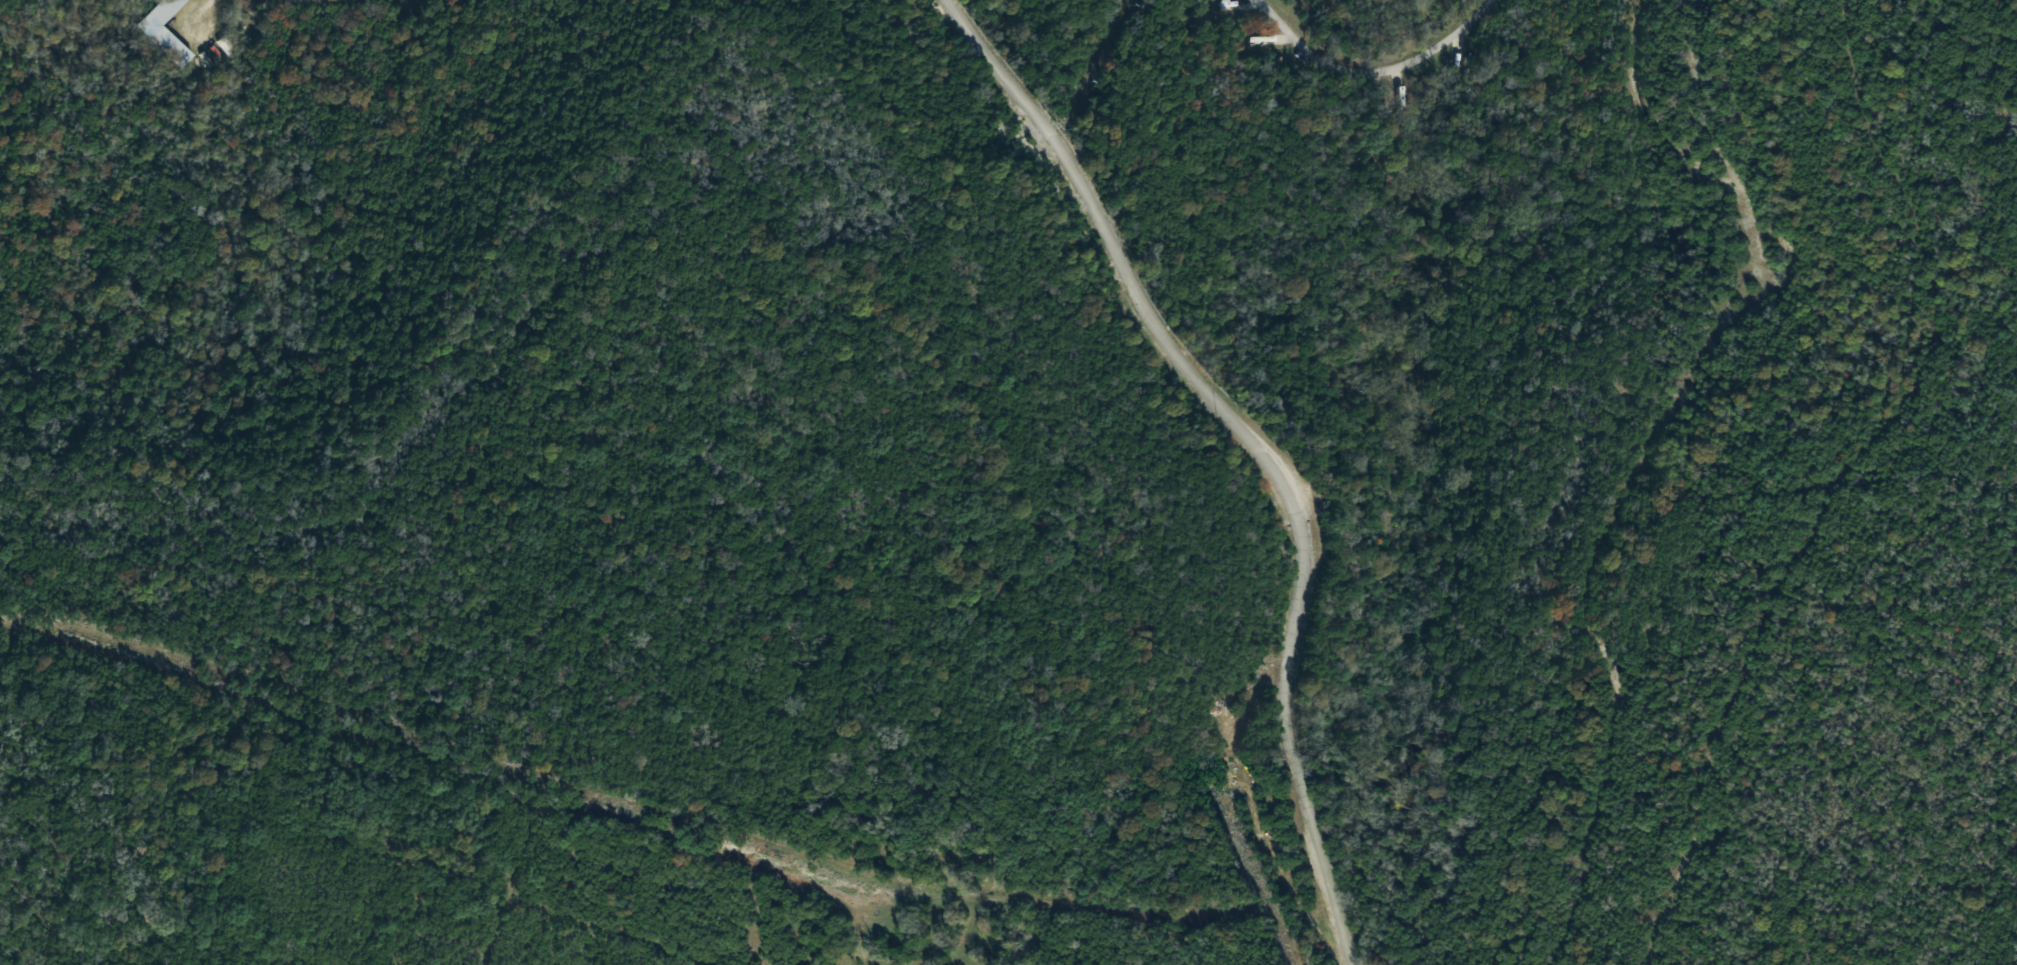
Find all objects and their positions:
road: (957, 13)
building: (167, 32)
building: (230, 48)
road: (1376, 73)
road: (1267, 455)
park: (1008, 482)

